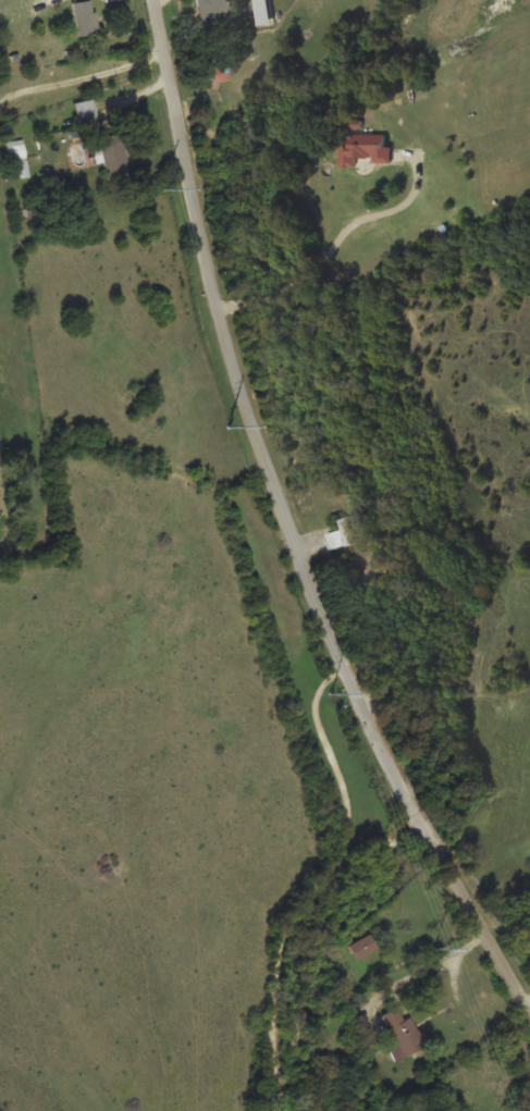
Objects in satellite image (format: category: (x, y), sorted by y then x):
building: (209, 5)
building: (262, 12)
building: (84, 16)
building: (16, 148)
building: (363, 148)
building: (113, 155)
road: (298, 517)
building: (344, 531)
road: (210, 539)
building: (363, 563)
building: (362, 946)
building: (402, 1034)

